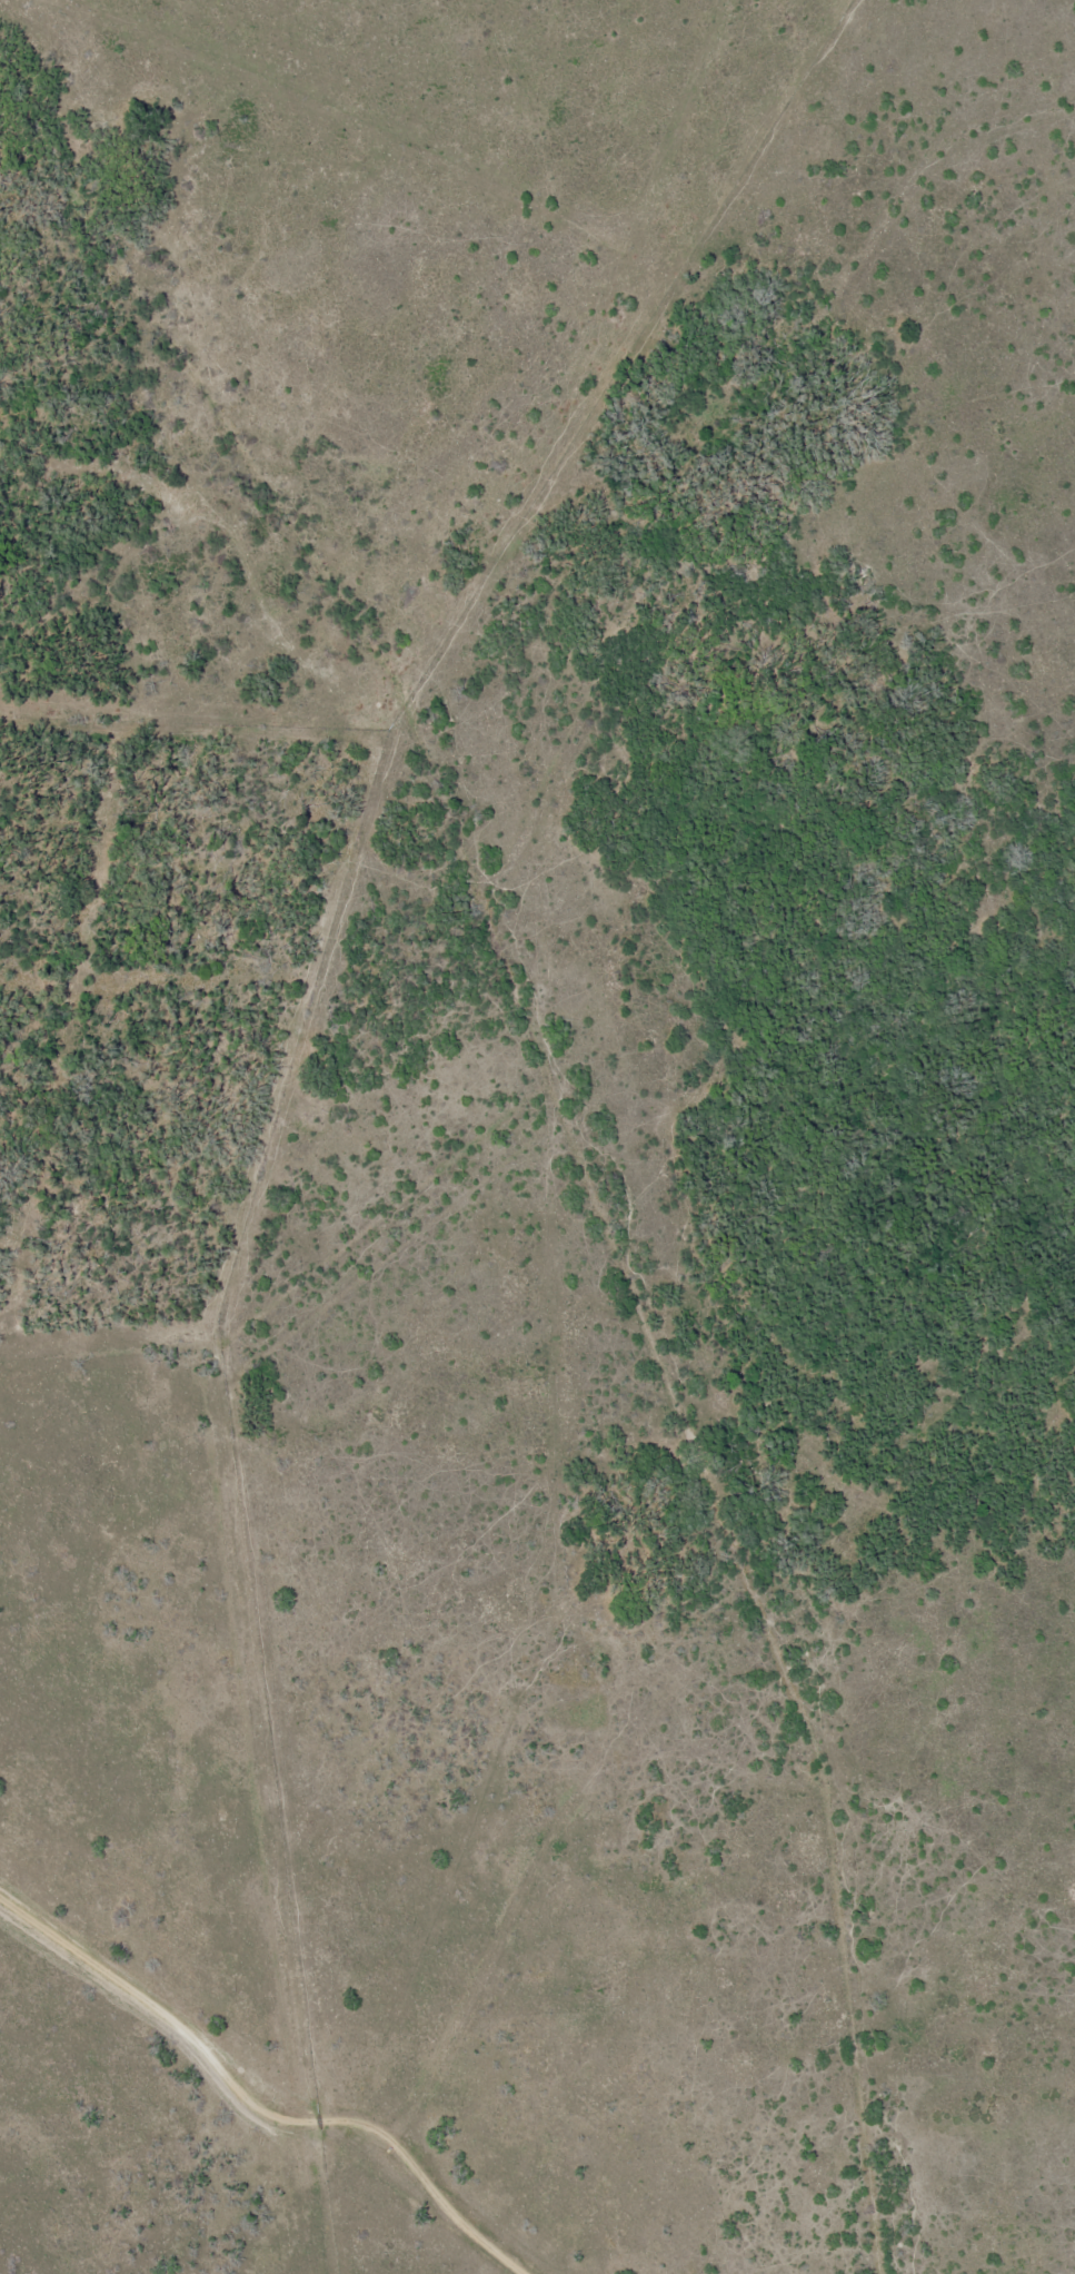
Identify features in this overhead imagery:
road: (252, 2100)

